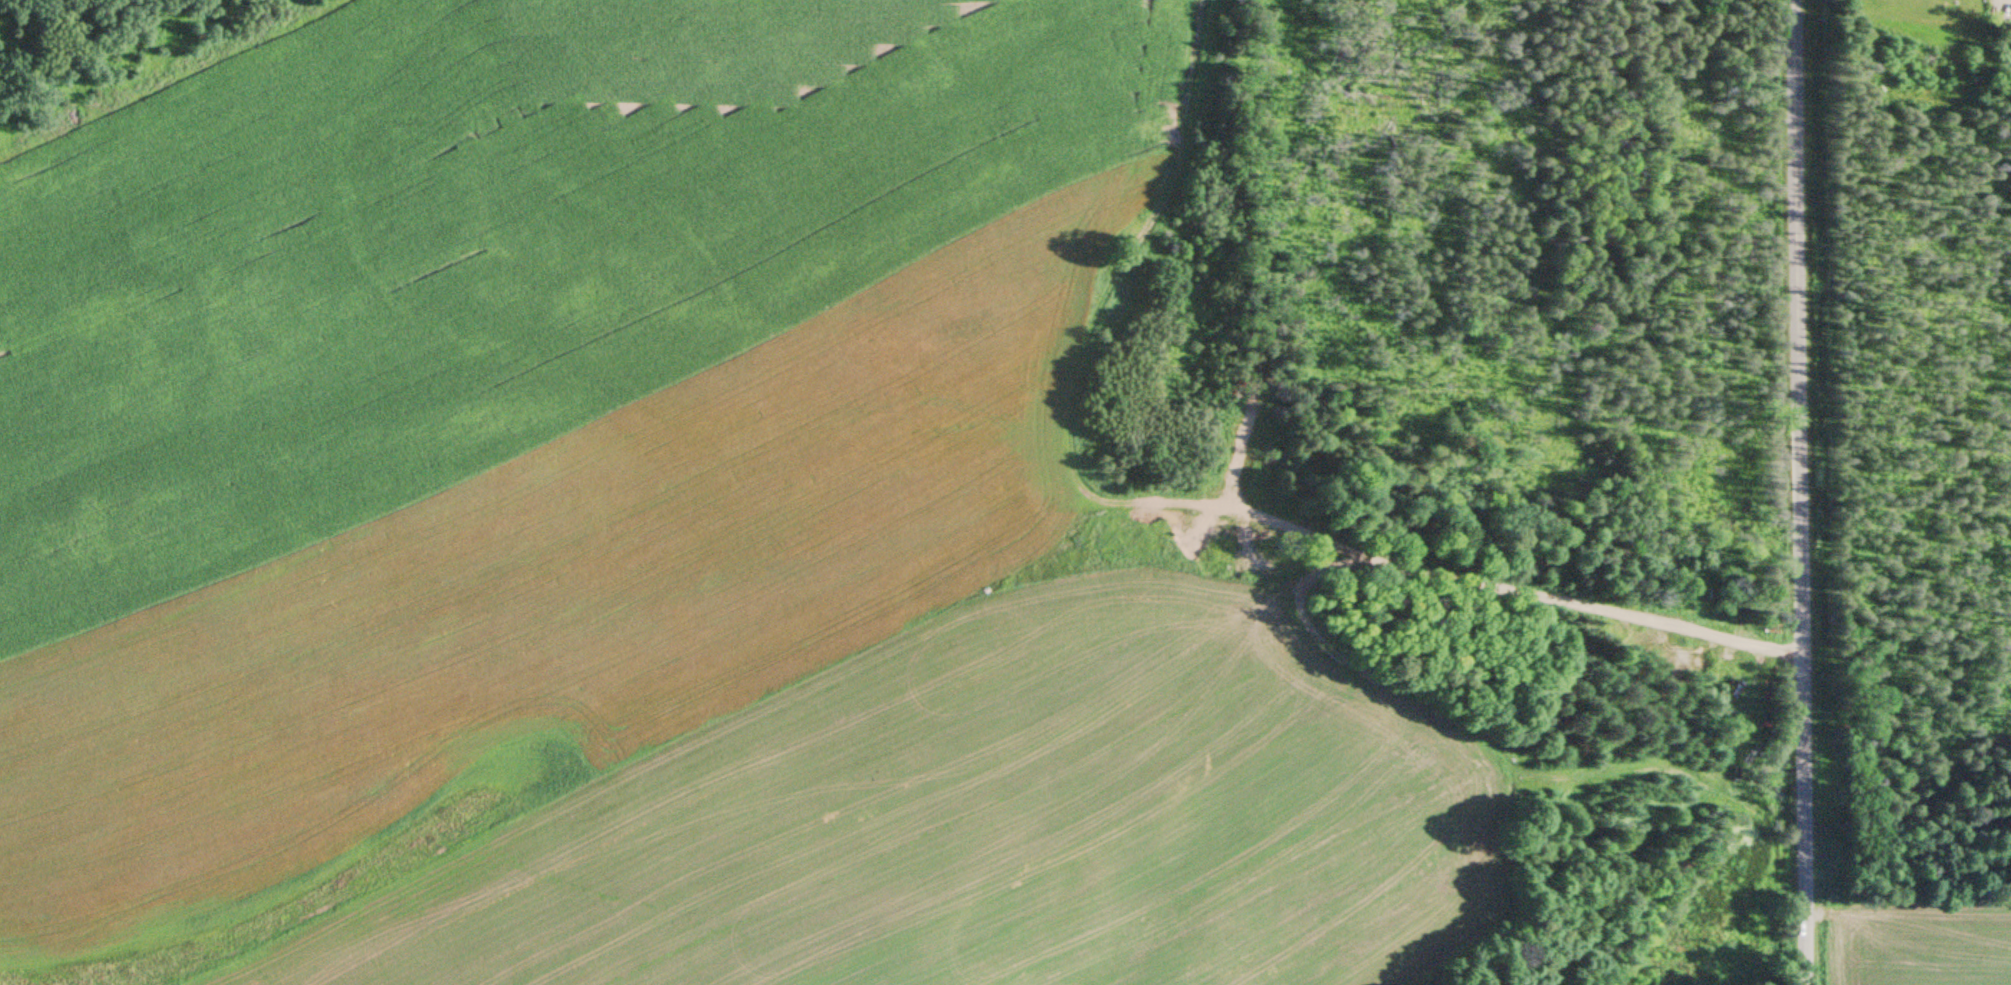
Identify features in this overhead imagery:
road: (1801, 492)

